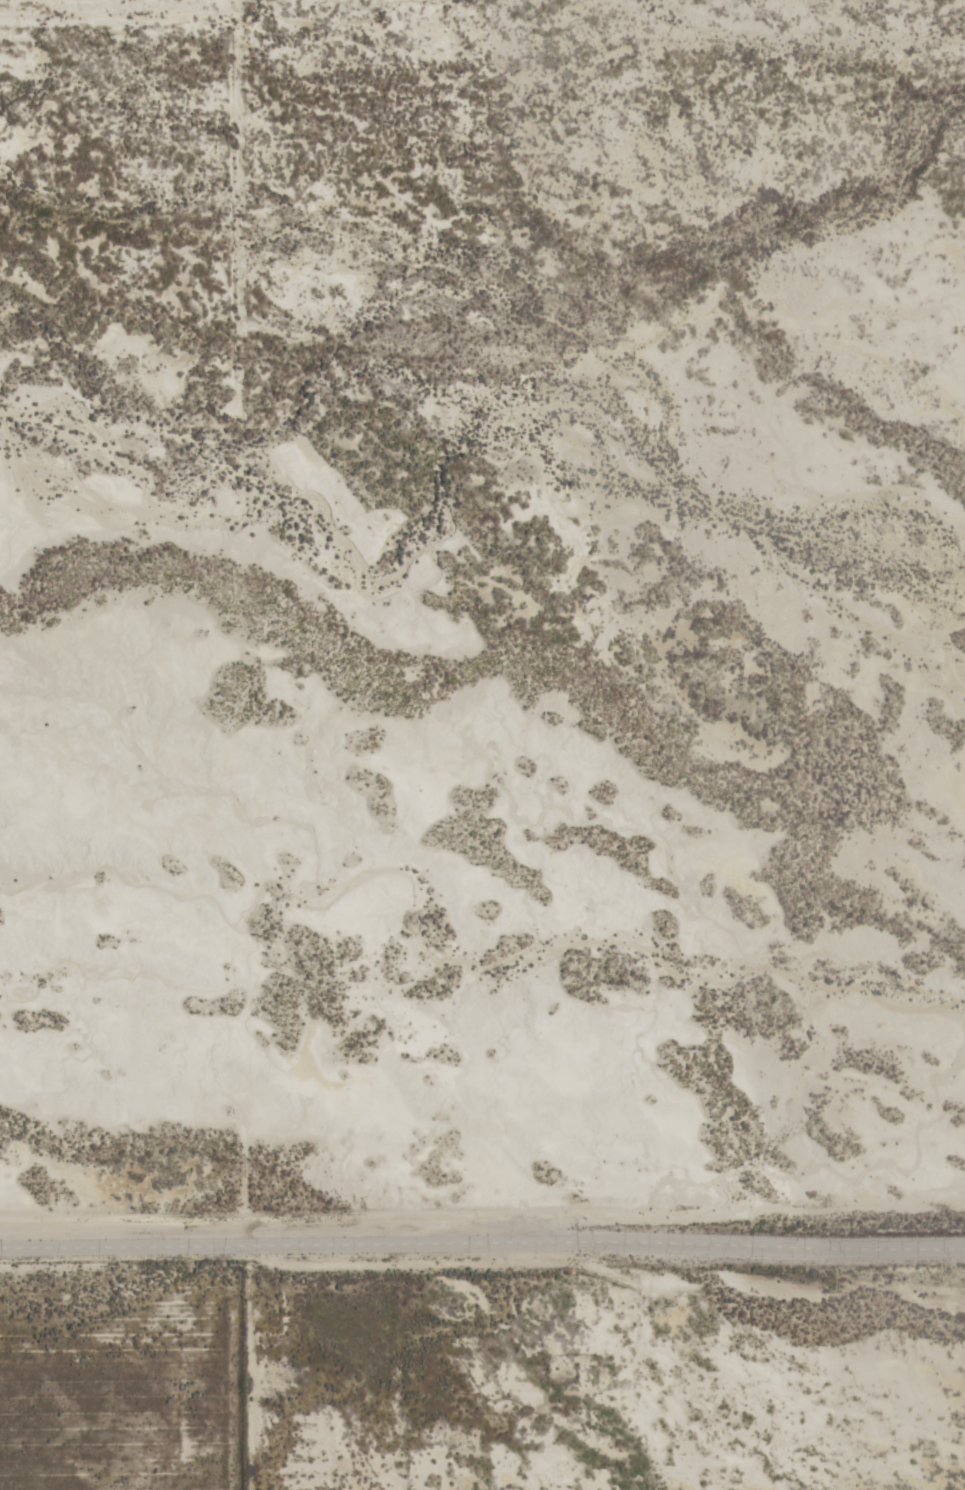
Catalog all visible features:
road: (482, 1252)

